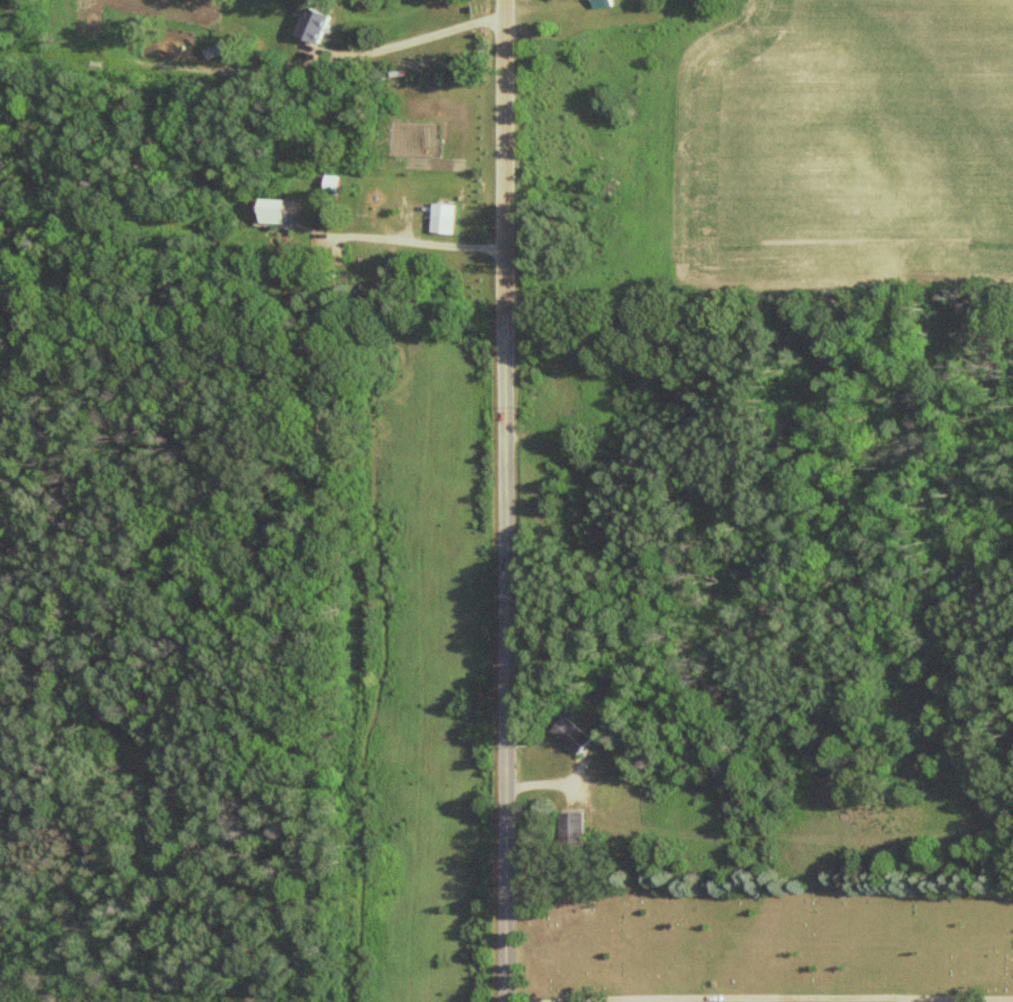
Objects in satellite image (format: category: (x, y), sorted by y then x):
building: (605, 3)
building: (320, 24)
road: (411, 43)
road: (504, 162)
building: (447, 219)
road: (406, 243)
road: (503, 664)
building: (579, 735)
building: (580, 825)
park: (769, 945)
road: (778, 995)

